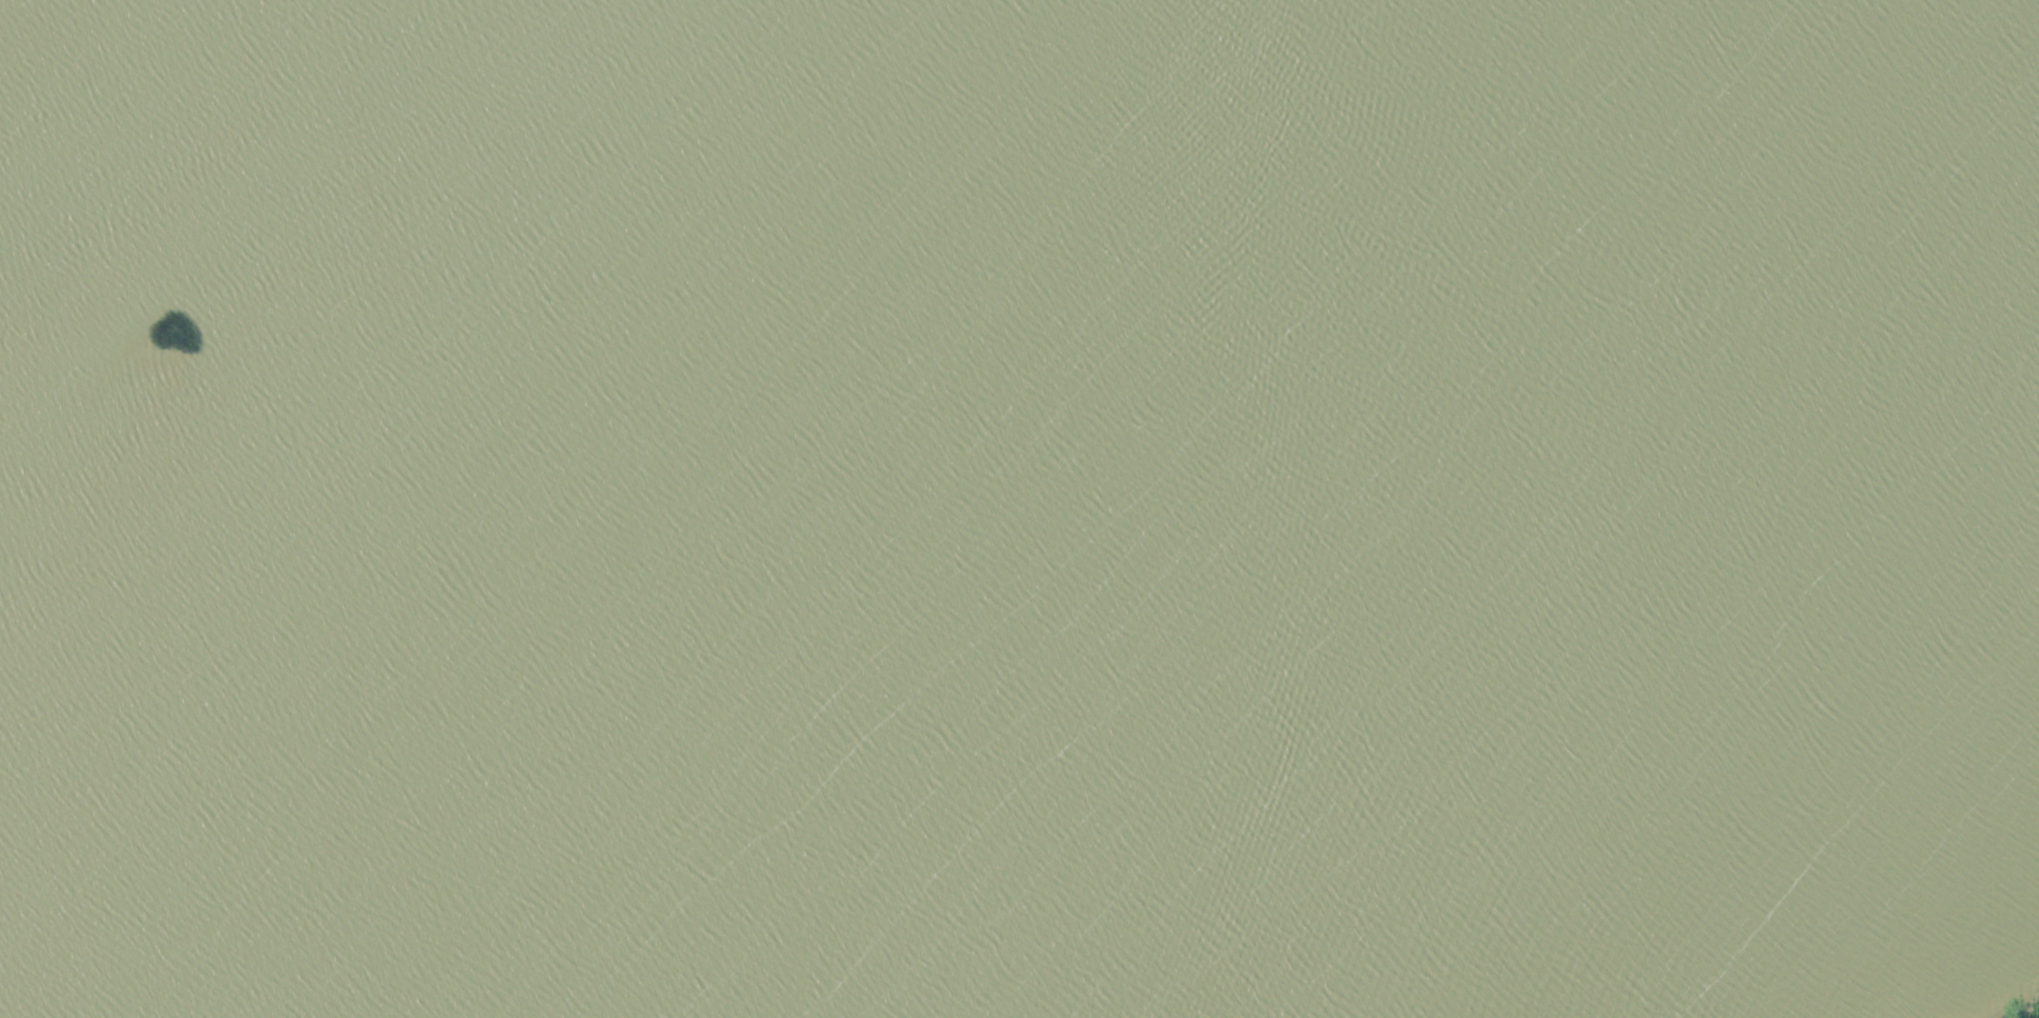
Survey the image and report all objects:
river: (1007, 509)

